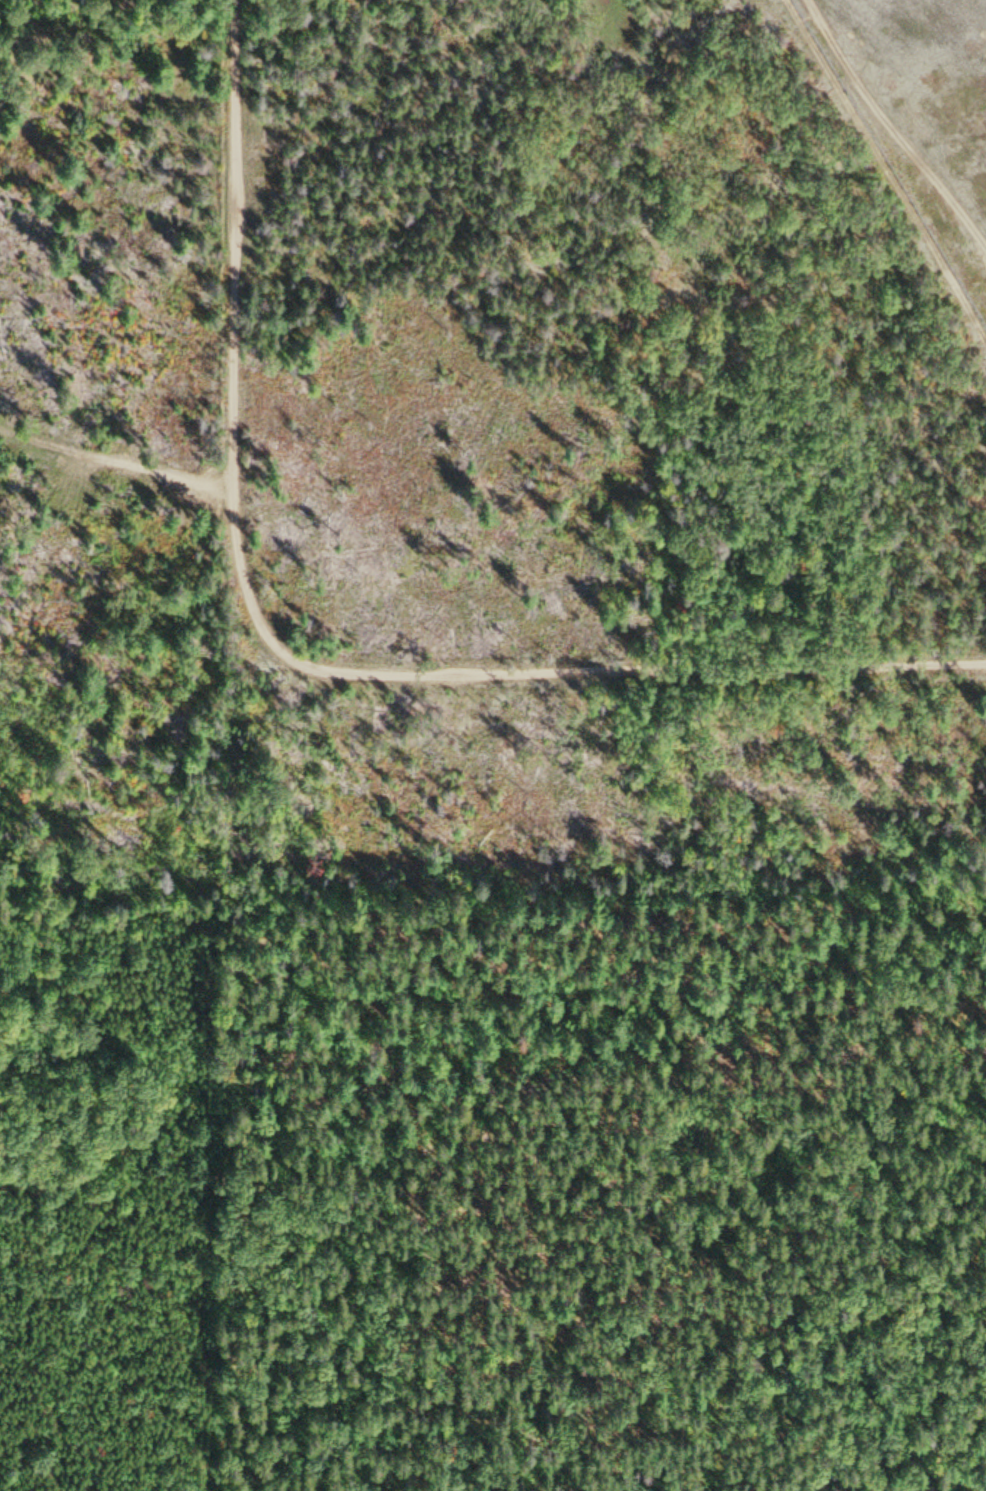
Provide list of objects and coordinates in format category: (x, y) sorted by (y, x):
airport: (922, 107)
road: (240, 455)
road: (628, 665)
road: (627, 891)

